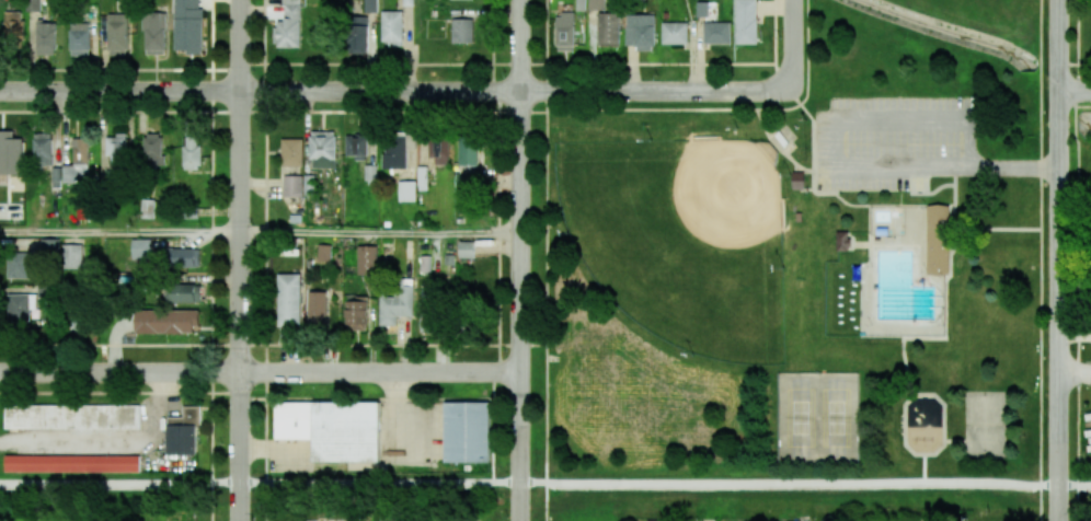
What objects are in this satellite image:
building: (409, 2)
building: (596, 4)
building: (370, 5)
building: (702, 9)
building: (746, 21)
building: (12, 24)
building: (187, 25)
building: (288, 25)
building: (391, 27)
building: (608, 27)
building: (462, 31)
building: (640, 31)
building: (564, 32)
building: (154, 33)
building: (674, 33)
building: (716, 33)
building: (117, 34)
building: (358, 34)
building: (45, 38)
building: (79, 38)
road: (794, 42)
road: (806, 53)
road: (1040, 79)
road: (120, 92)
road: (515, 92)
road: (1073, 92)
road: (792, 94)
road: (545, 102)
road: (673, 109)
road: (533, 112)
road: (836, 118)
parking lot: (895, 141)
road: (778, 146)
building: (355, 147)
building: (43, 149)
building: (116, 149)
building: (152, 149)
building: (322, 149)
building: (468, 150)
building: (438, 151)
building: (191, 152)
building: (291, 152)
building: (394, 152)
building: (10, 153)
building: (77, 161)
road: (1040, 162)
road: (1012, 165)
road: (1040, 172)
building: (56, 176)
building: (797, 178)
building: (463, 184)
building: (292, 186)
road: (805, 189)
building: (406, 190)
road: (931, 190)
road: (838, 196)
road: (953, 206)
building: (147, 208)
road: (120, 233)
road: (381, 234)
park: (684, 238)
building: (841, 240)
building: (937, 240)
building: (50, 246)
building: (141, 248)
building: (466, 248)
building: (323, 252)
building: (72, 256)
building: (185, 257)
building: (367, 259)
road: (1057, 259)
road: (1078, 259)
road: (241, 260)
road: (520, 260)
building: (19, 266)
park: (802, 268)
road: (945, 288)
building: (182, 293)
building: (289, 299)
building: (19, 308)
building: (394, 308)
building: (317, 309)
building: (428, 311)
building: (357, 313)
road: (545, 316)
building: (166, 321)
road: (1040, 332)
road: (532, 344)
road: (260, 373)
road: (1073, 375)
road: (935, 397)
building: (72, 416)
park: (818, 416)
park: (986, 424)
building: (332, 428)
building: (183, 431)
building: (467, 431)
road: (954, 441)
building: (72, 463)
road: (260, 482)
road: (789, 483)
road: (1073, 485)
road: (1040, 503)

